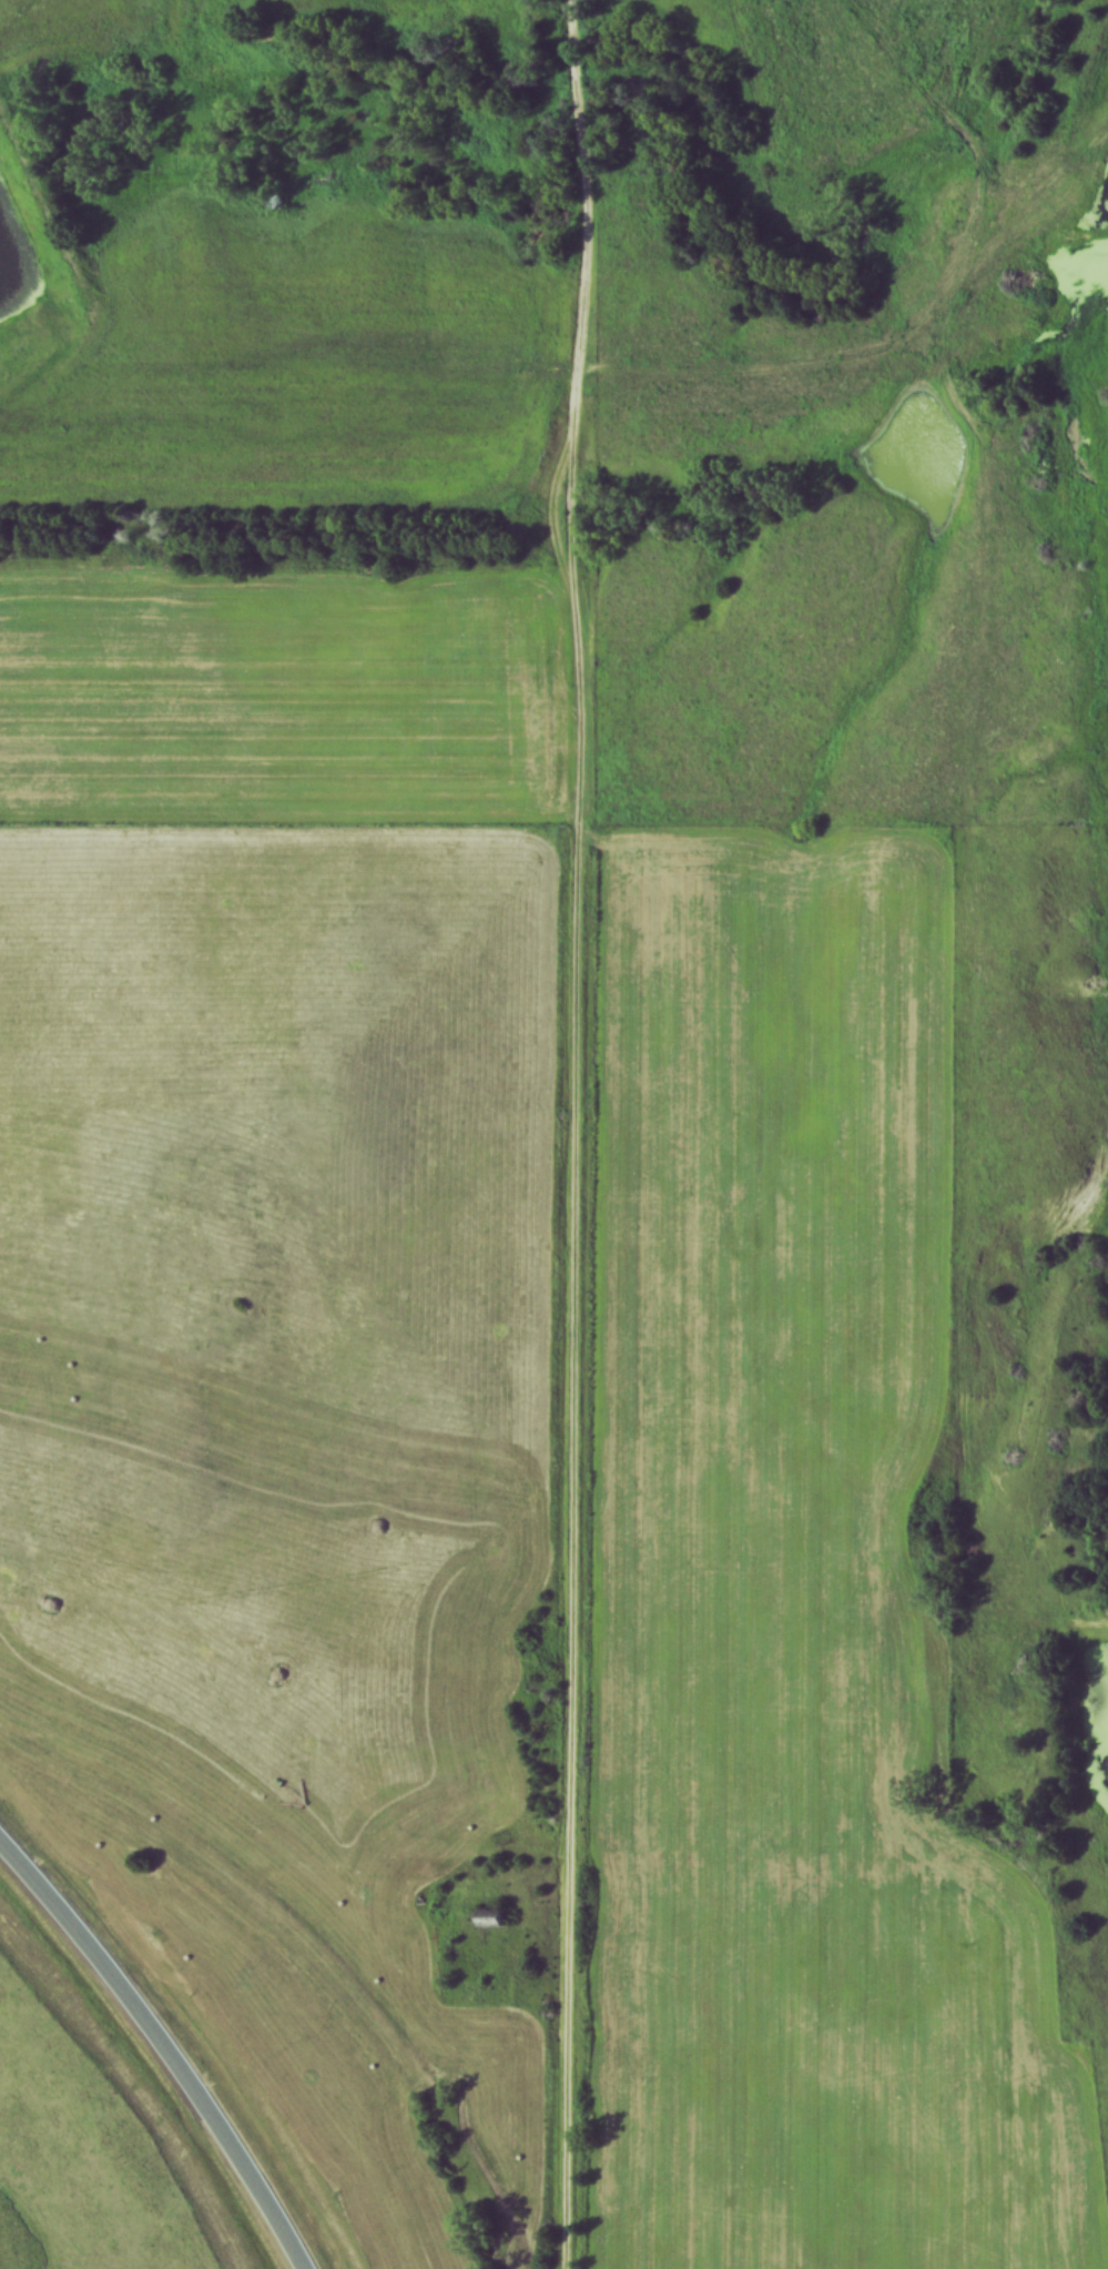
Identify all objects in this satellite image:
road: (573, 1134)
building: (492, 1918)
road: (161, 2050)

